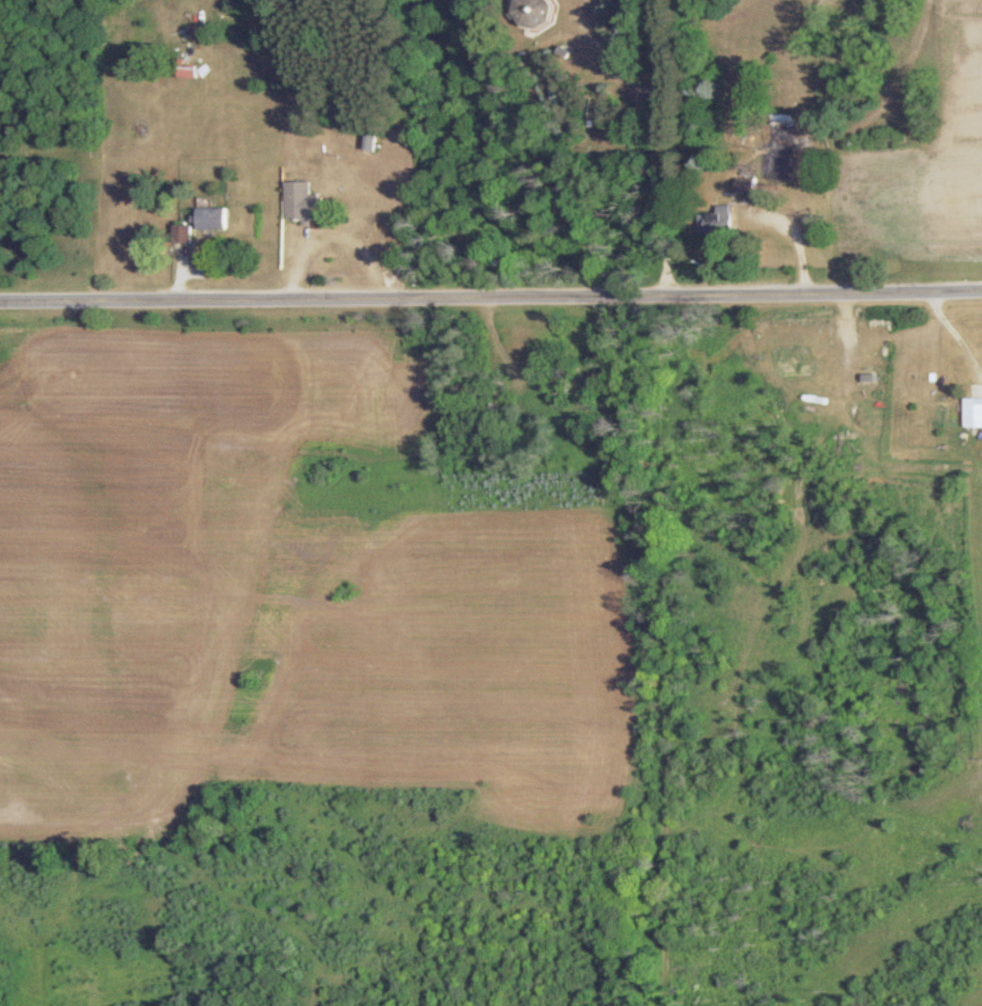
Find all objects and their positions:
building: (536, 12)
building: (189, 68)
building: (781, 152)
building: (752, 185)
building: (303, 202)
building: (214, 218)
building: (724, 219)
building: (183, 234)
road: (491, 296)
building: (973, 413)

